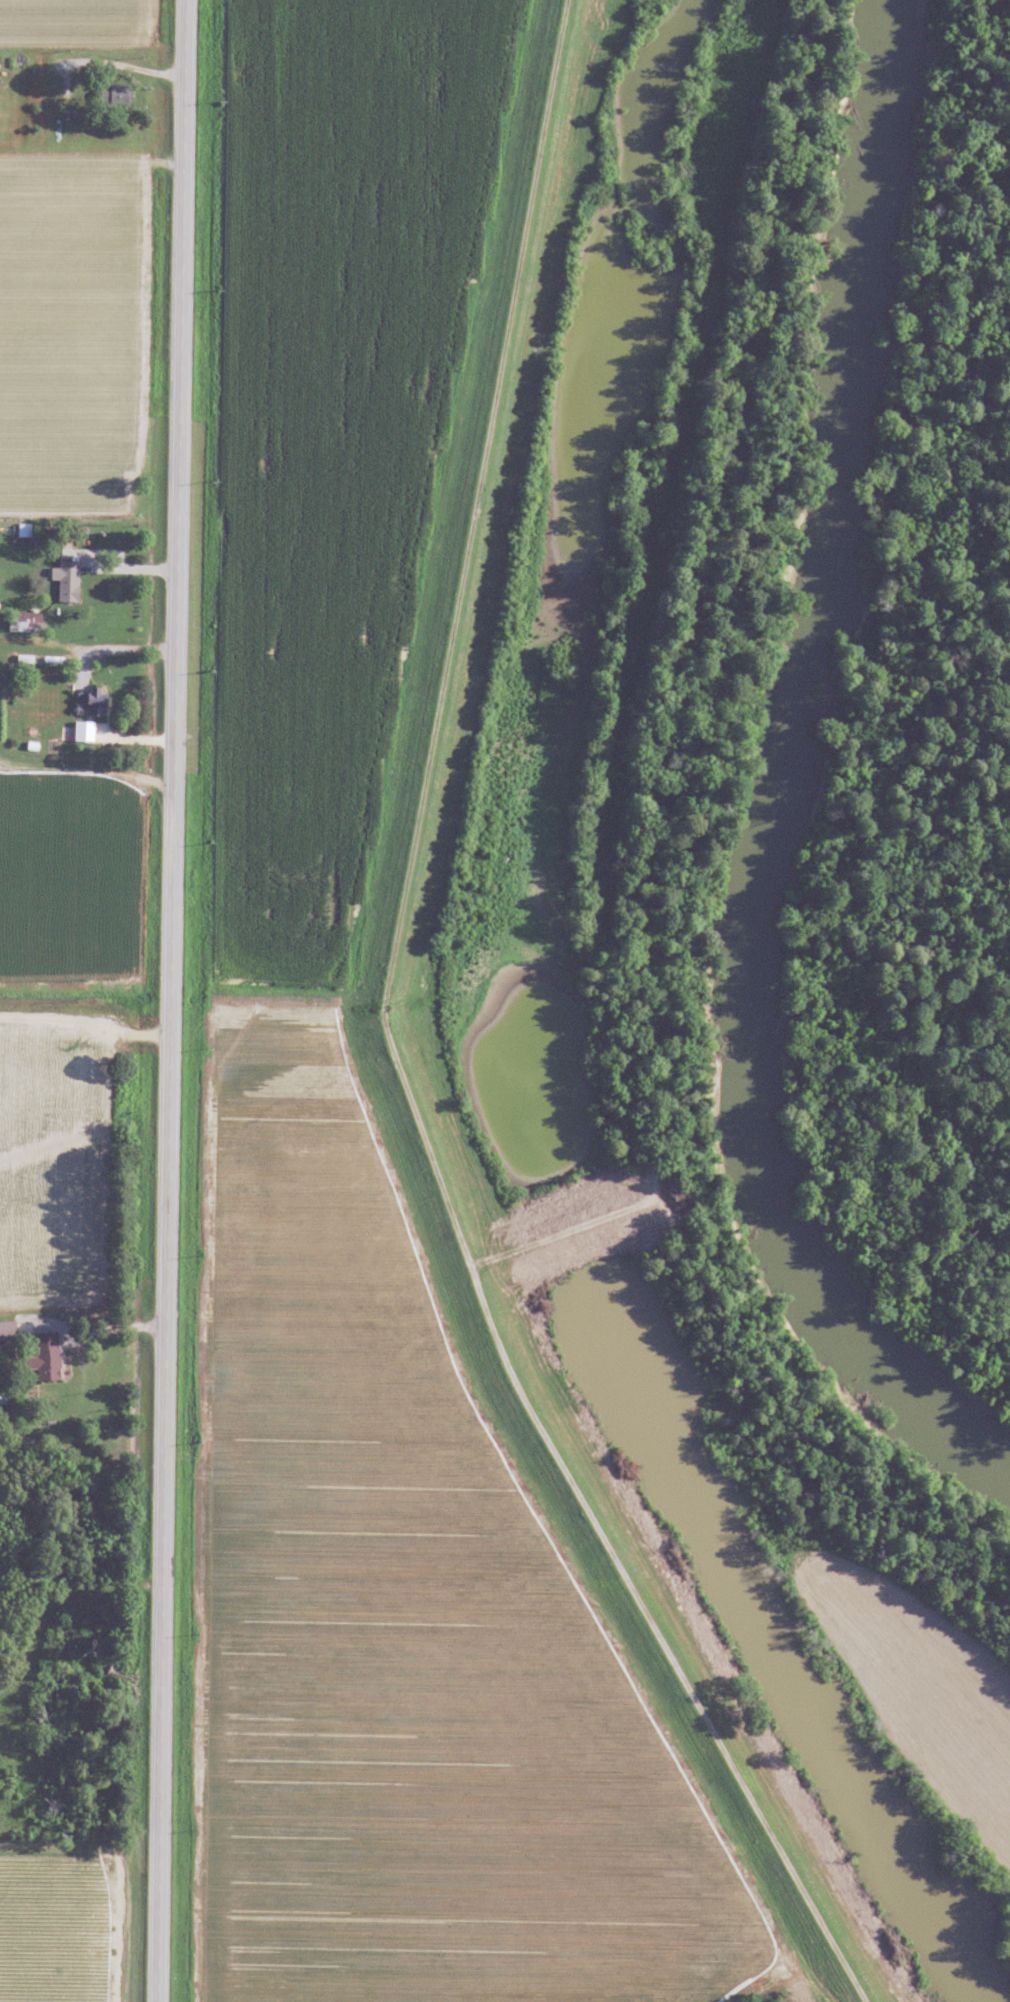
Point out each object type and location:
building: (113, 96)
building: (65, 581)
building: (89, 703)
river: (775, 784)
road: (169, 1000)
building: (7, 1331)
building: (46, 1359)

